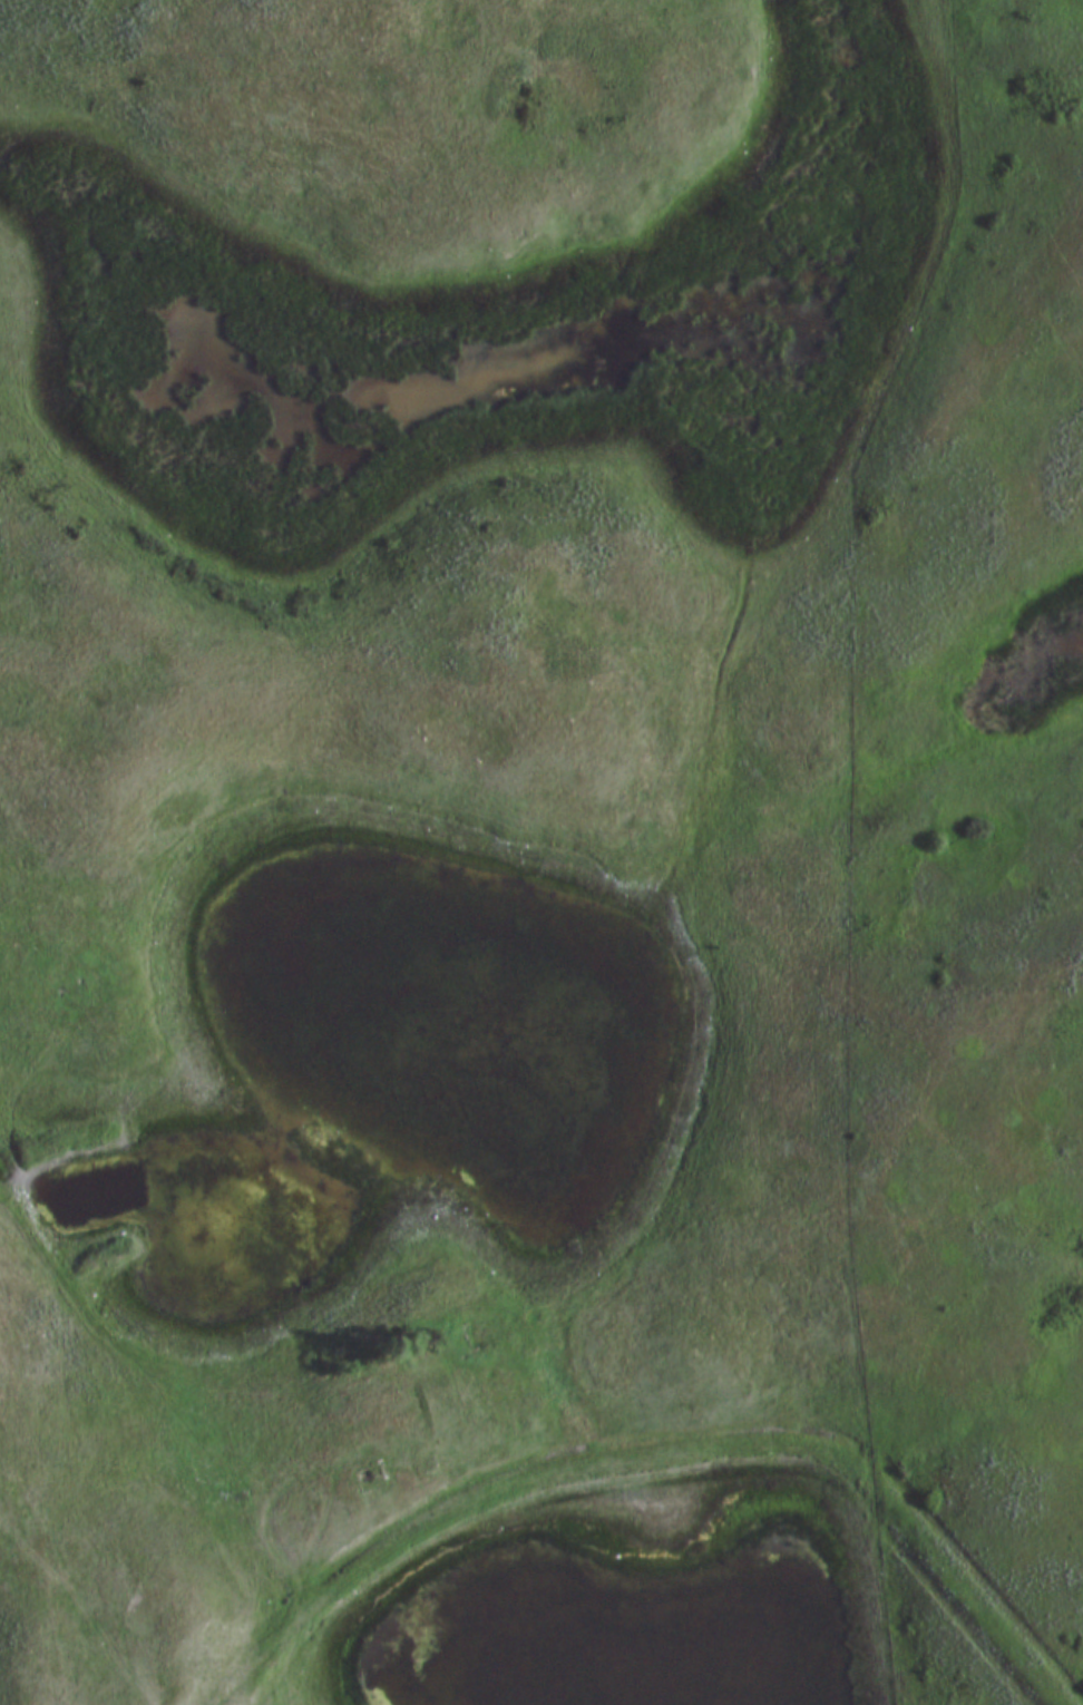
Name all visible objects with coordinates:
road: (84, 1601)

